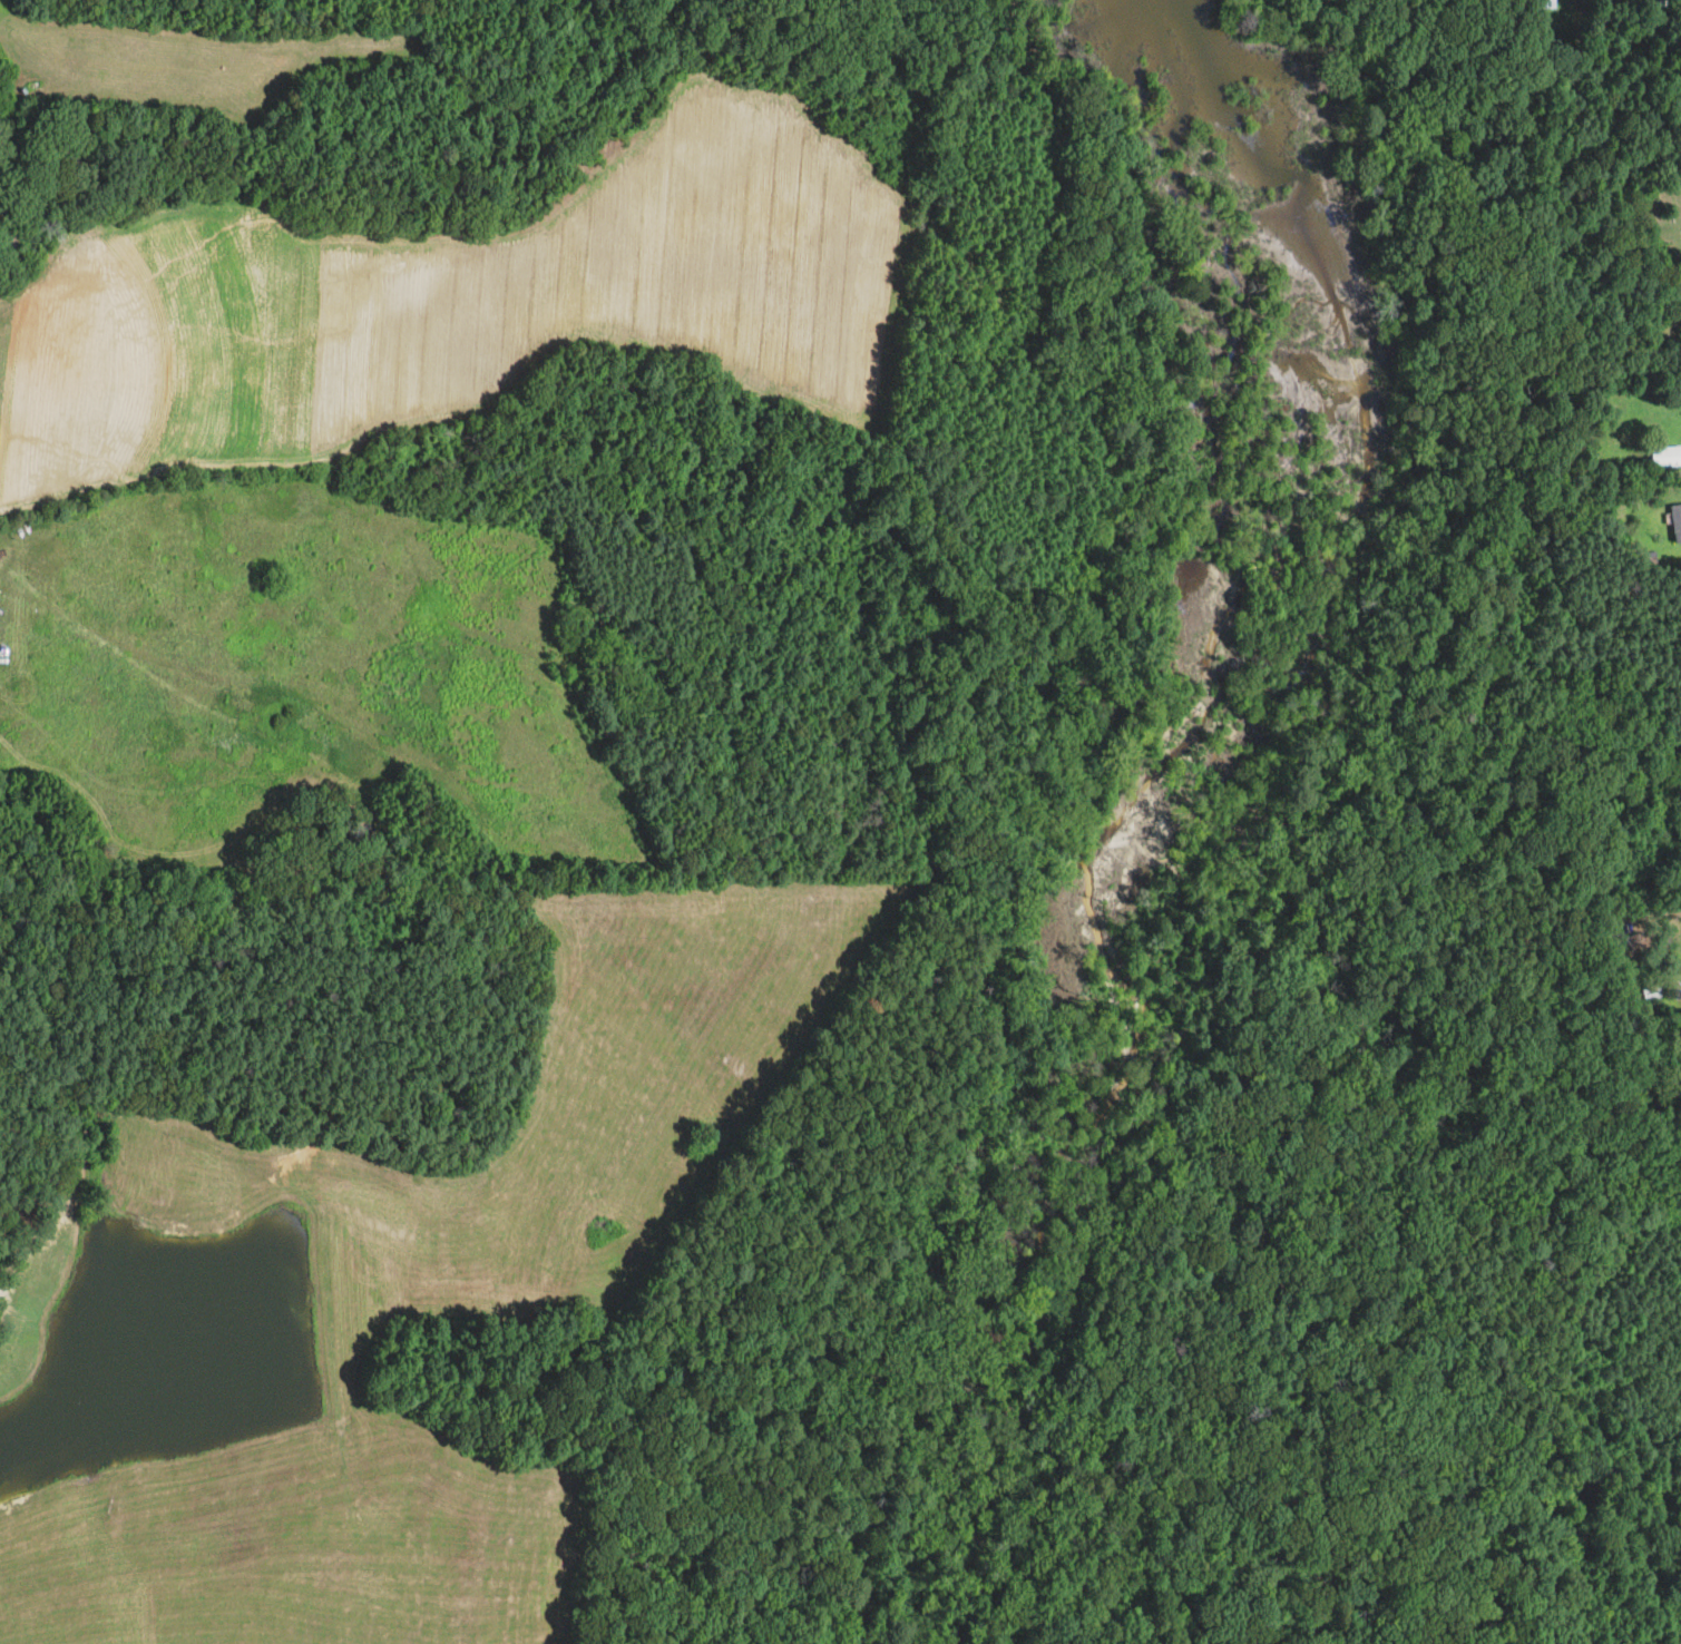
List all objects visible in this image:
building: (1547, 2)
building: (1667, 457)
building: (1677, 521)
building: (1652, 992)

